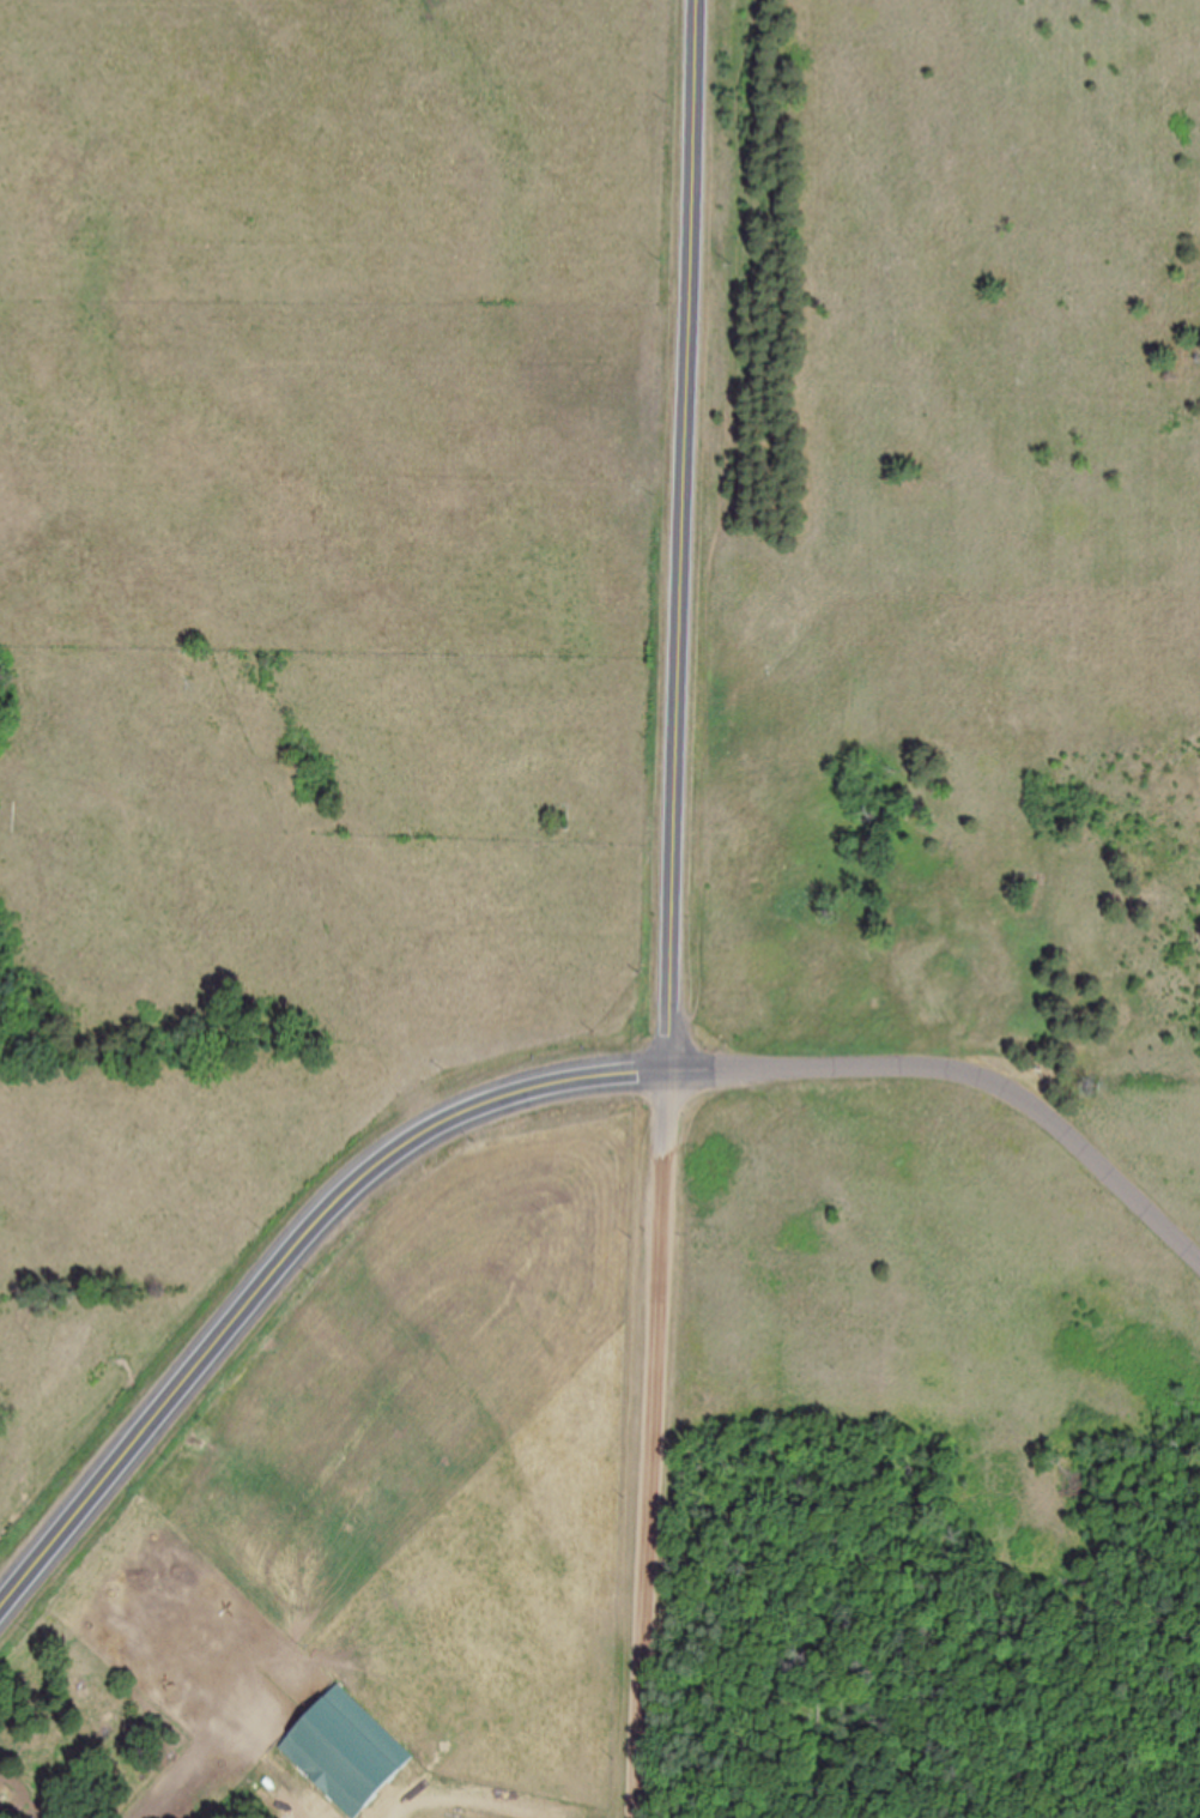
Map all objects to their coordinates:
road: (677, 537)
park: (934, 926)
road: (965, 1077)
building: (613, 1082)
road: (281, 1267)
road: (646, 1446)
building: (344, 1751)

